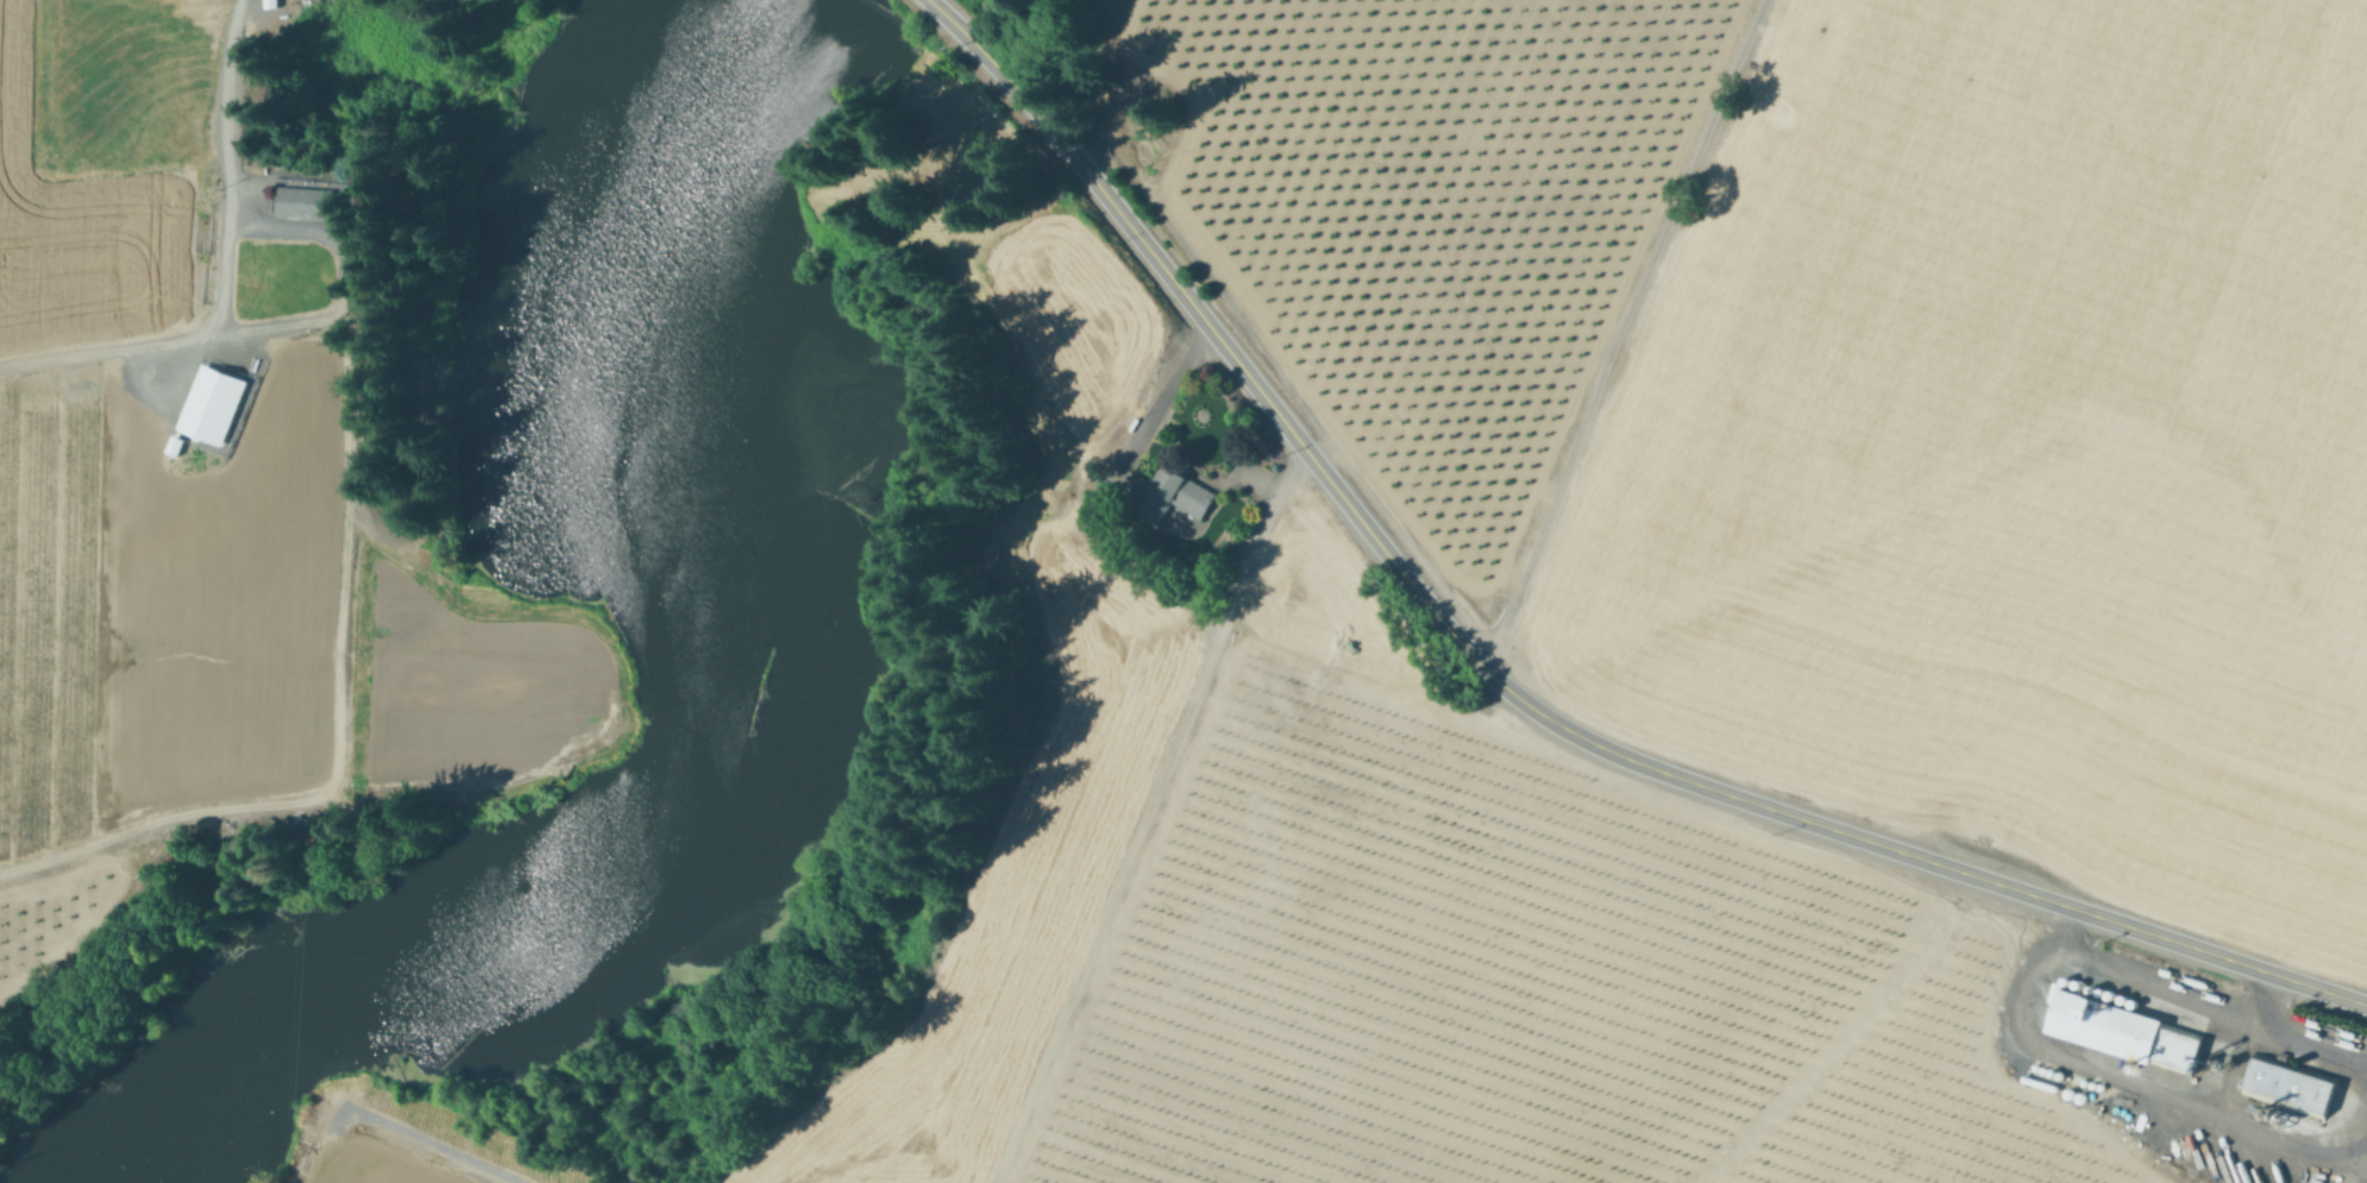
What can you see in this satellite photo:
road: (238, 169)
building: (306, 202)
crop: (1872, 388)
road: (1161, 402)
crop: (140, 427)
building: (1185, 495)
road: (1513, 694)
crop: (1434, 982)
road: (2215, 1000)
building: (2120, 1031)
road: (2241, 1042)
road: (2121, 1076)
building: (2284, 1082)

